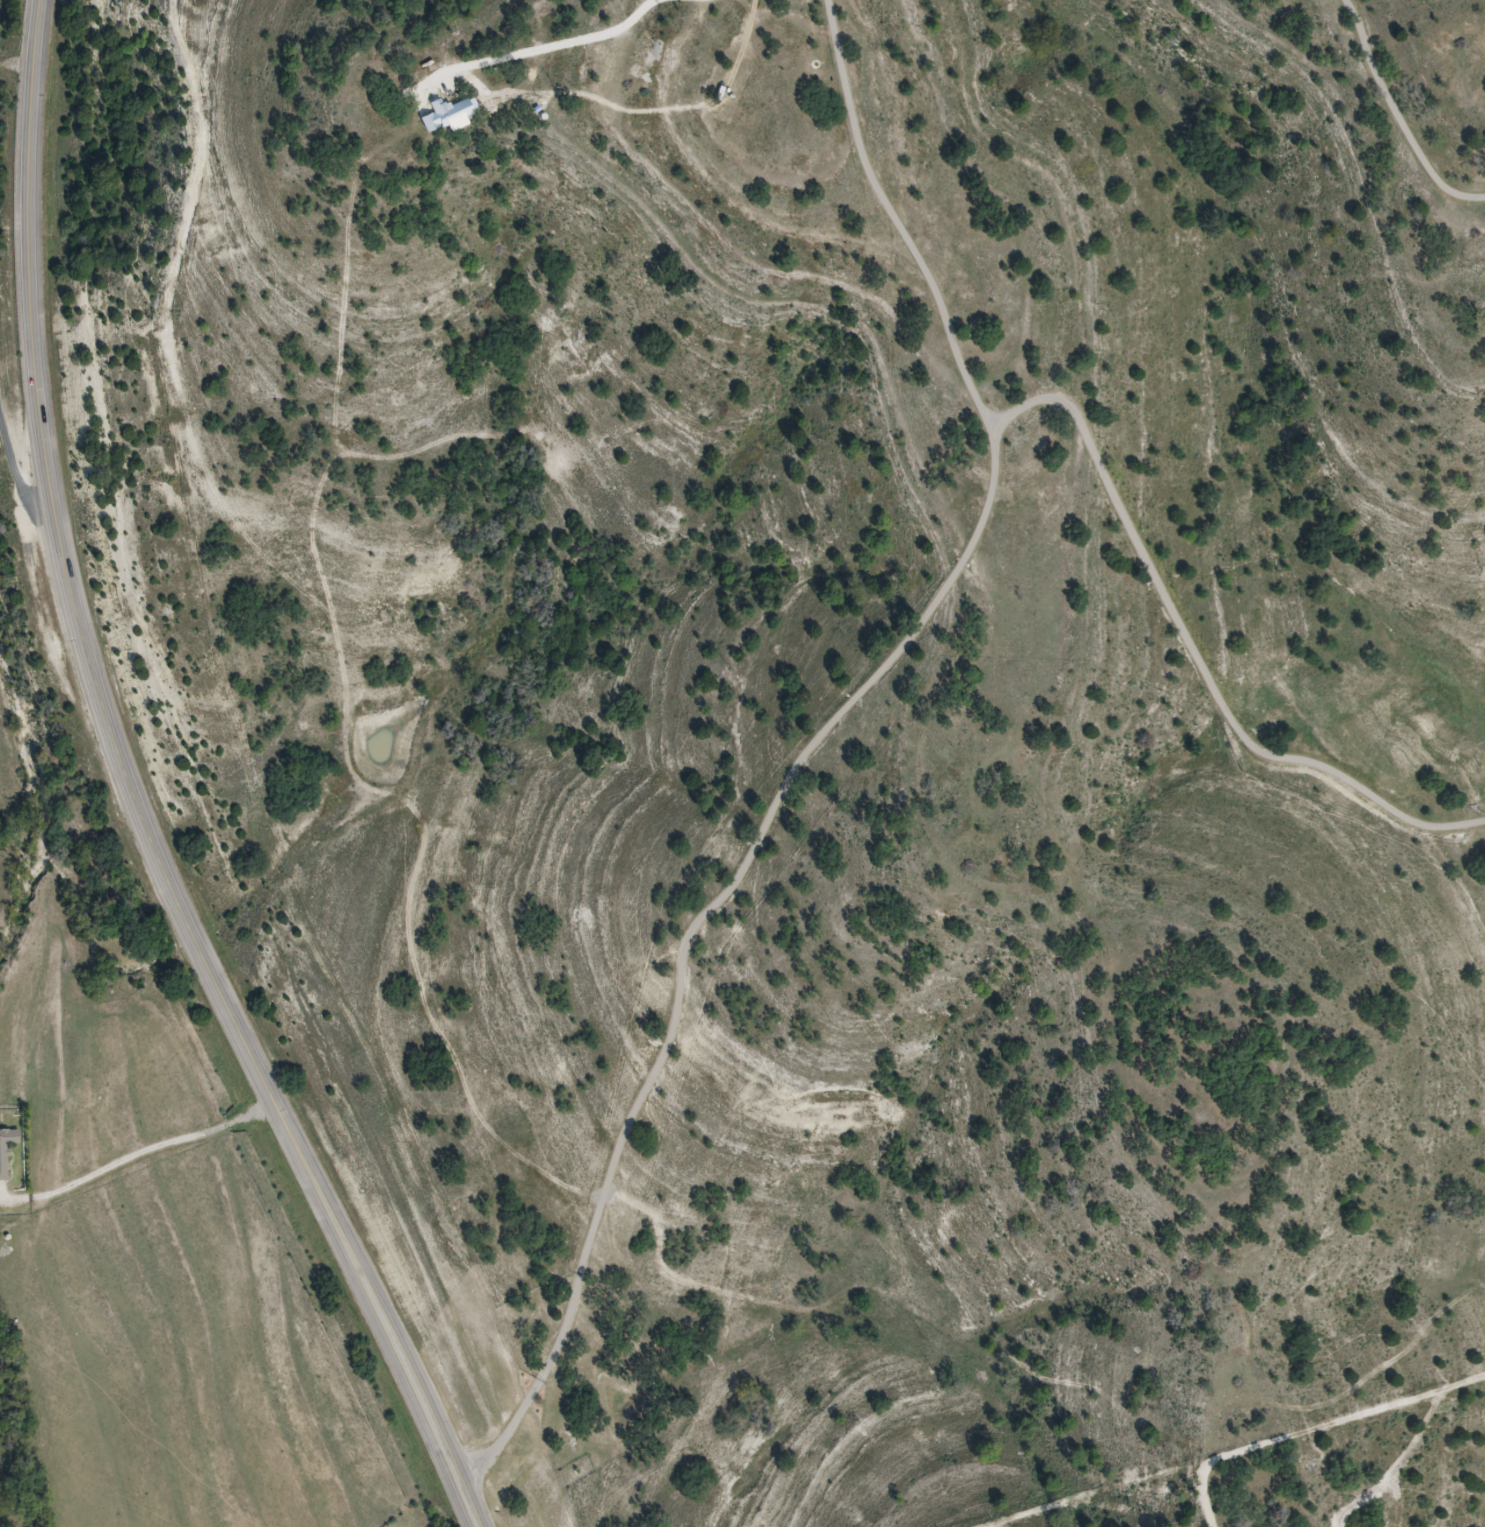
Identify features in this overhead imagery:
road: (23, 71)
road: (1407, 113)
road: (19, 470)
road: (1193, 654)
road: (830, 753)
road: (147, 792)
building: (7, 1152)
road: (143, 1160)

